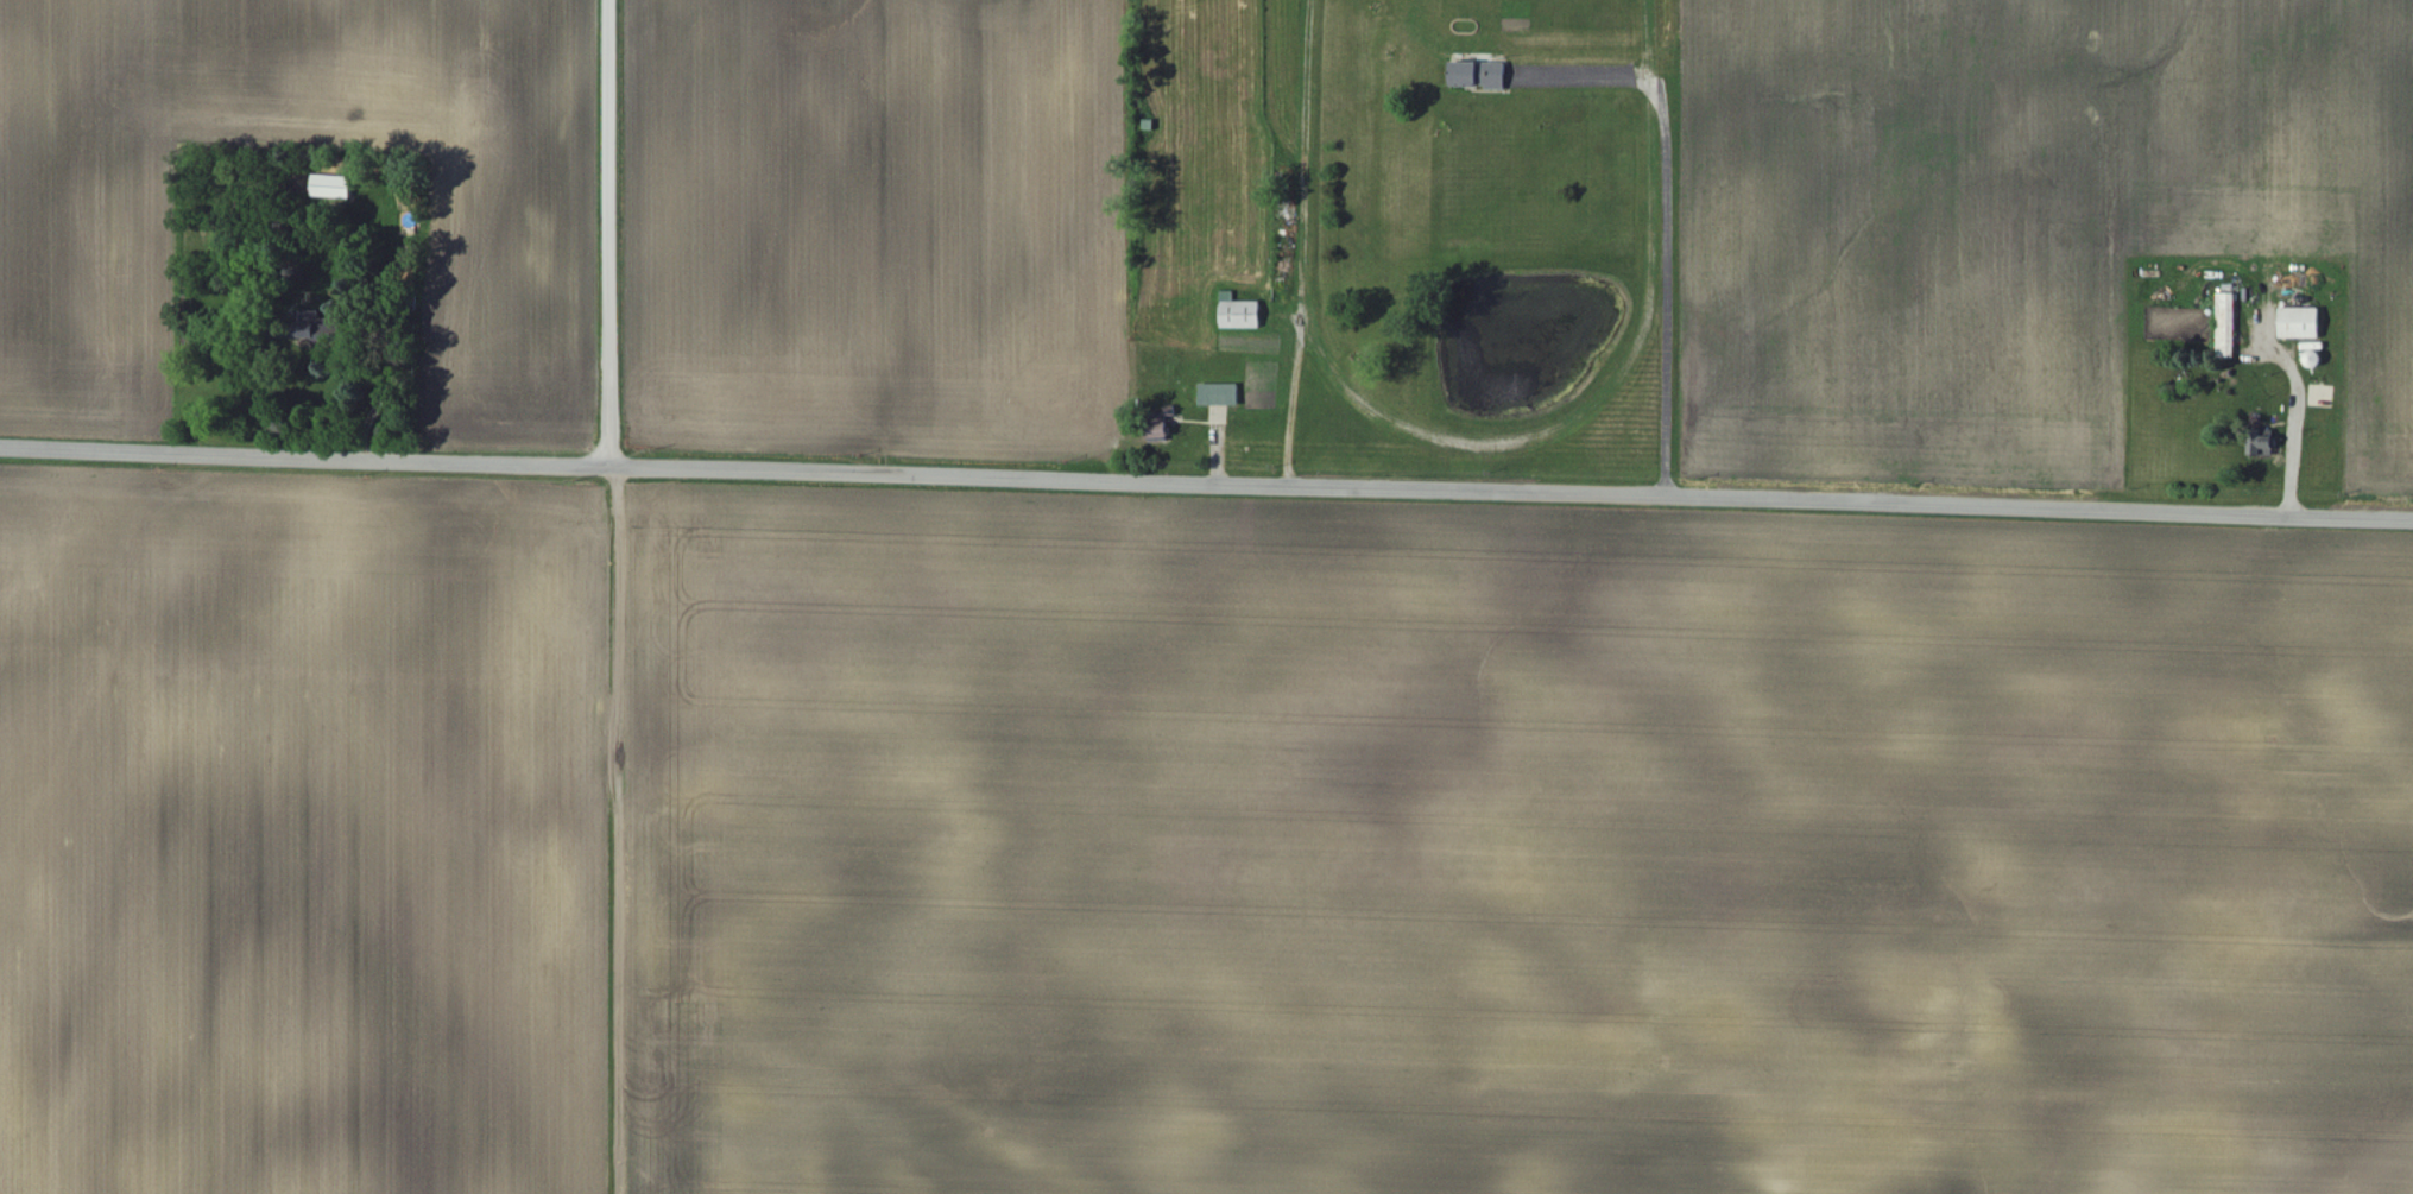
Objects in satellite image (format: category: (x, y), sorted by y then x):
building: (1478, 76)
building: (330, 188)
road: (2186, 214)
road: (608, 234)
building: (1240, 316)
building: (2300, 324)
building: (304, 327)
building: (2226, 327)
building: (1218, 397)
road: (1294, 404)
building: (1158, 427)
building: (2261, 446)
road: (1206, 482)
road: (621, 832)

